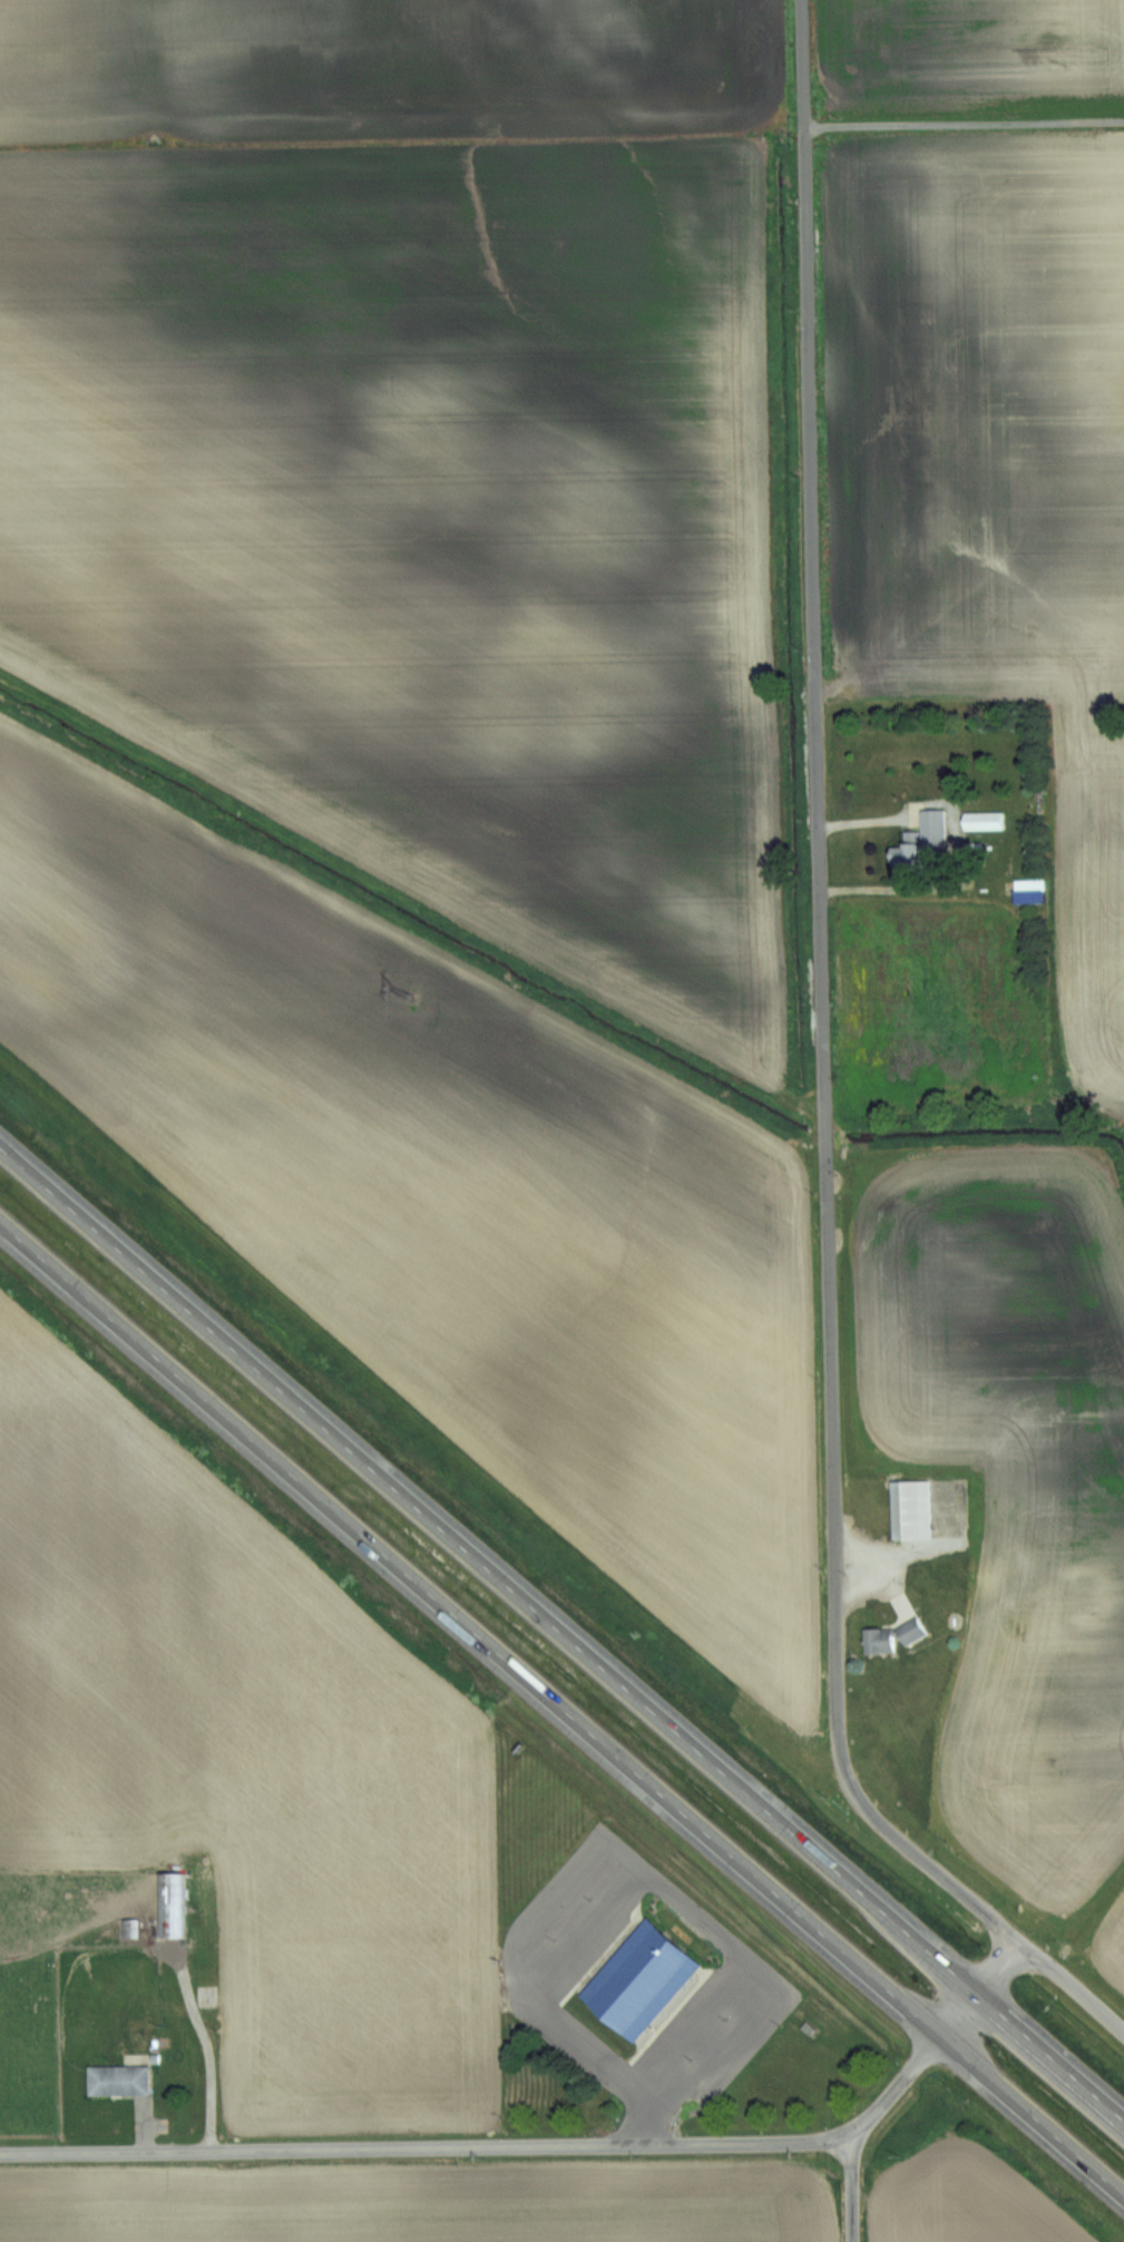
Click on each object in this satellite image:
road: (964, 100)
building: (983, 820)
building: (931, 828)
road: (957, 835)
road: (822, 1009)
building: (910, 1509)
road: (488, 1569)
road: (469, 1629)
building: (888, 1636)
building: (160, 1912)
road: (998, 1968)
building: (638, 1980)
road: (1072, 1986)
building: (205, 1995)
road: (958, 2015)
road: (1050, 2057)
building: (118, 2079)
road: (1032, 2115)
road: (496, 2146)
road: (852, 2192)

